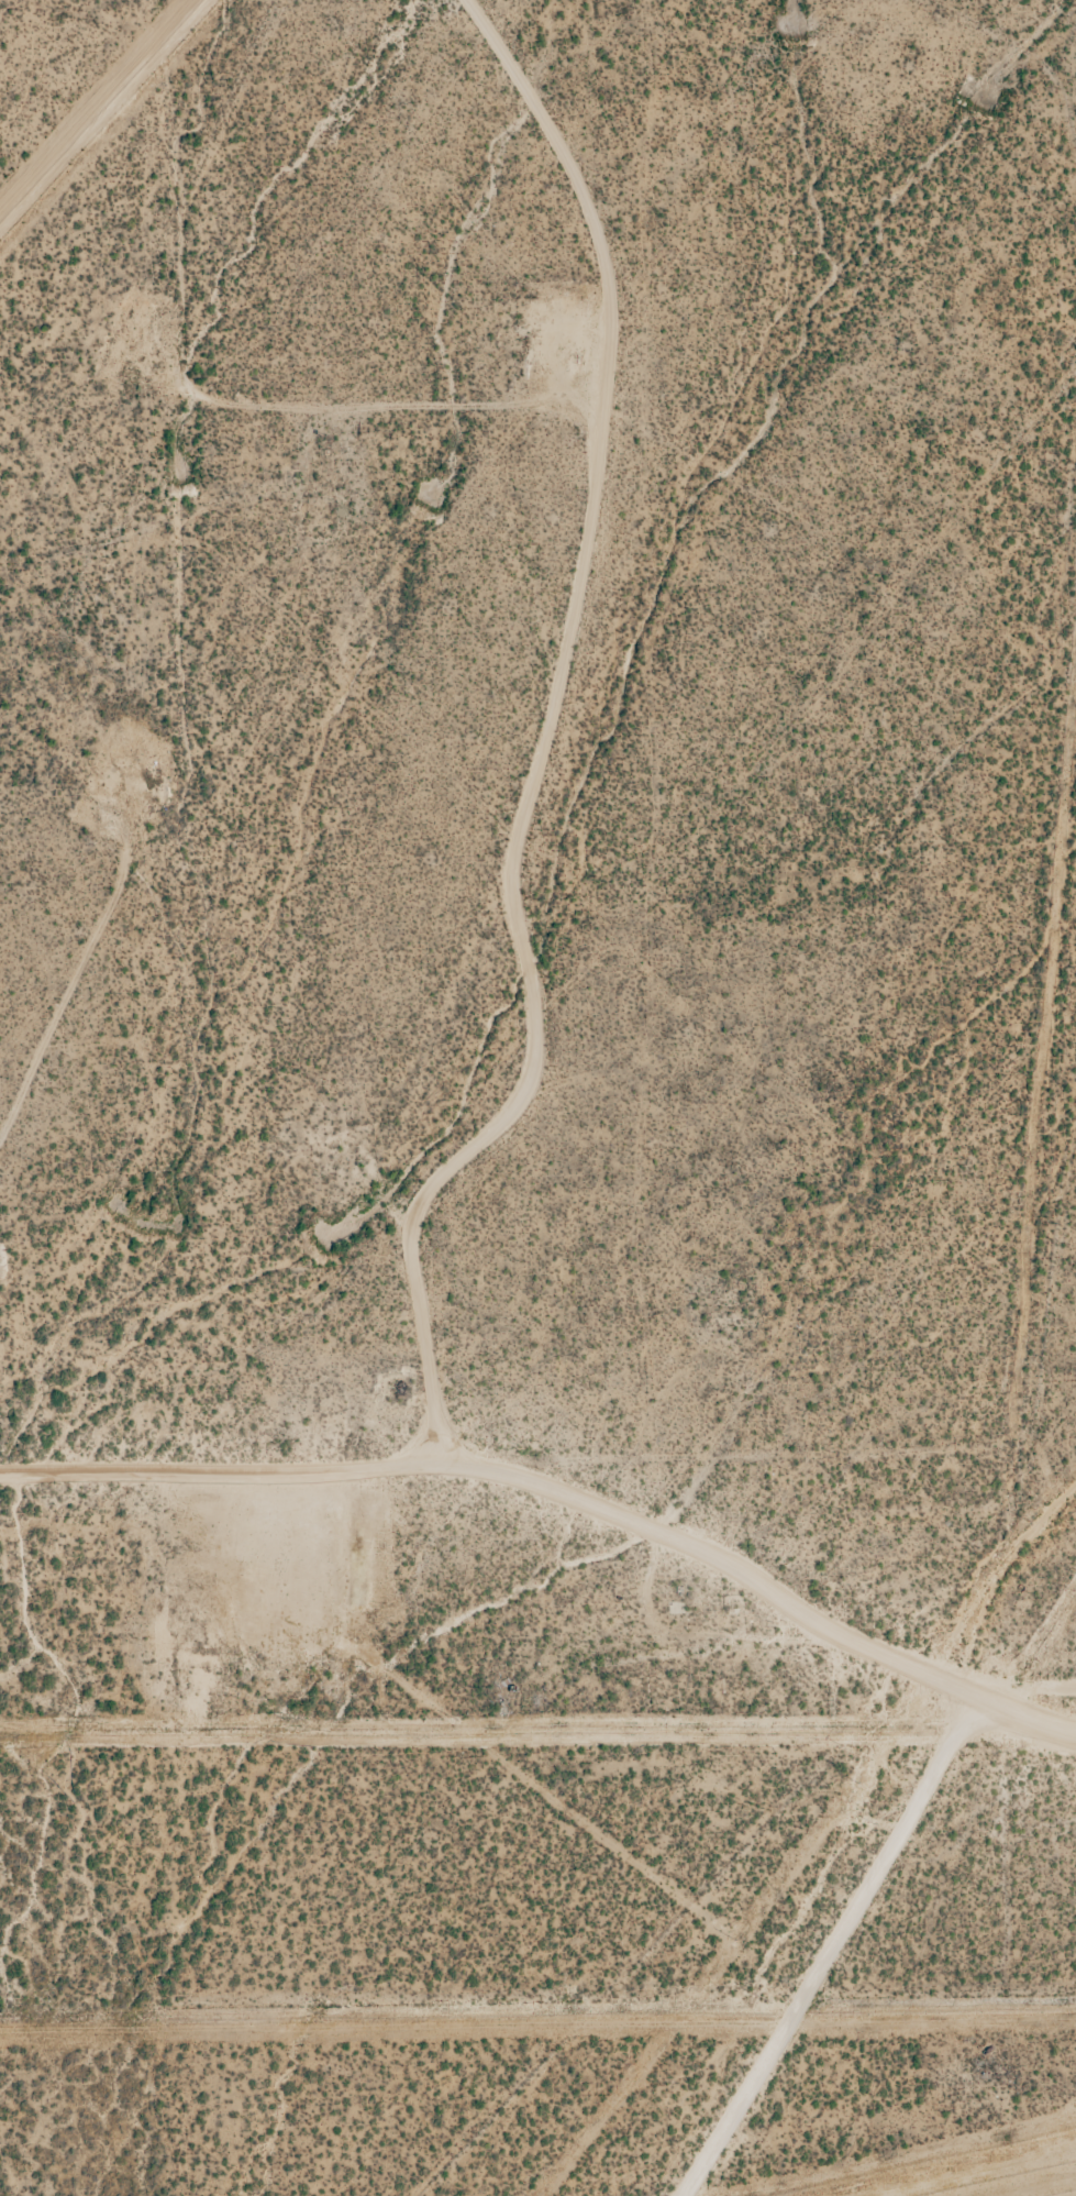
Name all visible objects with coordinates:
road: (354, 375)
road: (550, 720)
road: (1016, 1383)
road: (514, 1519)
road: (1038, 1690)
road: (824, 1947)

